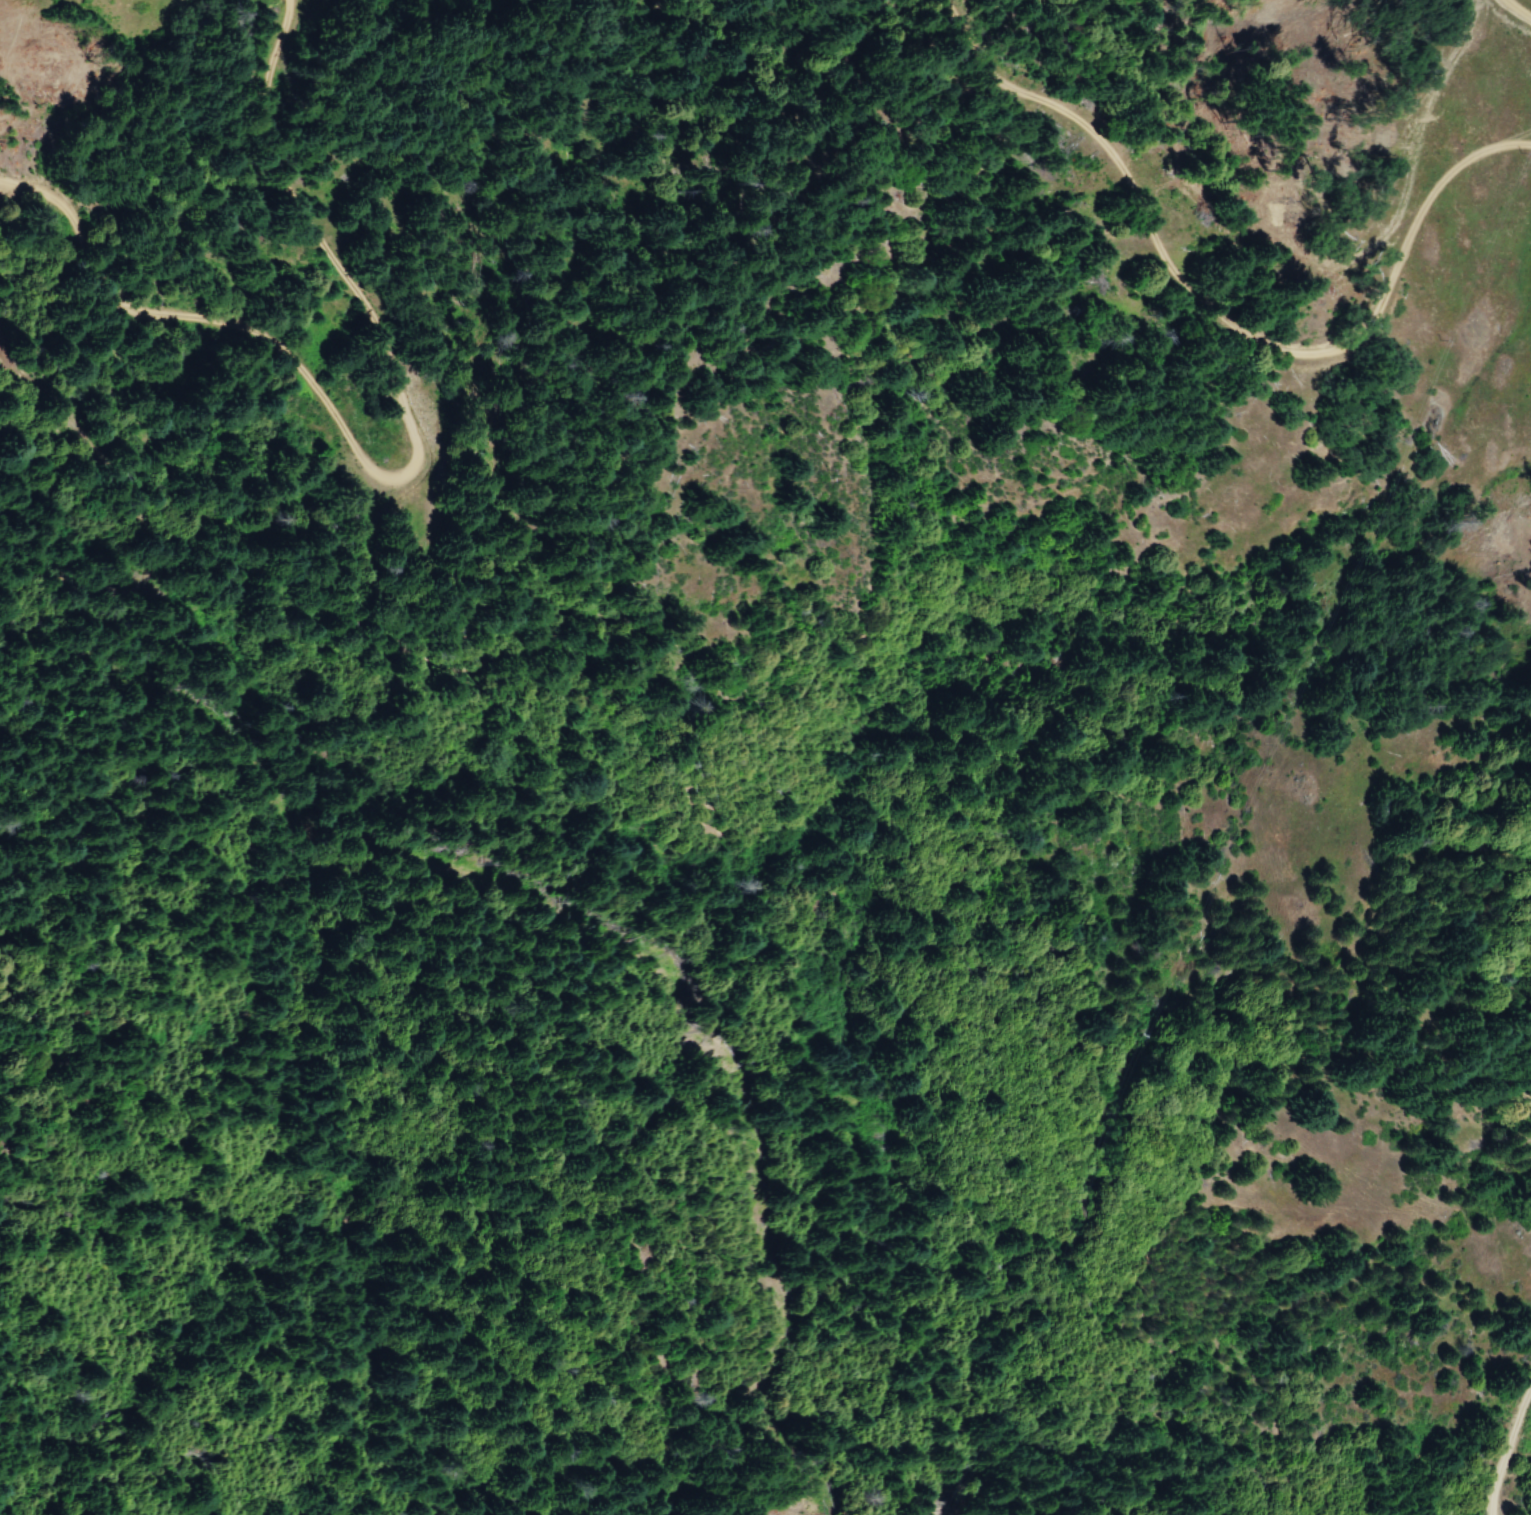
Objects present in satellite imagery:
road: (1522, 8)

